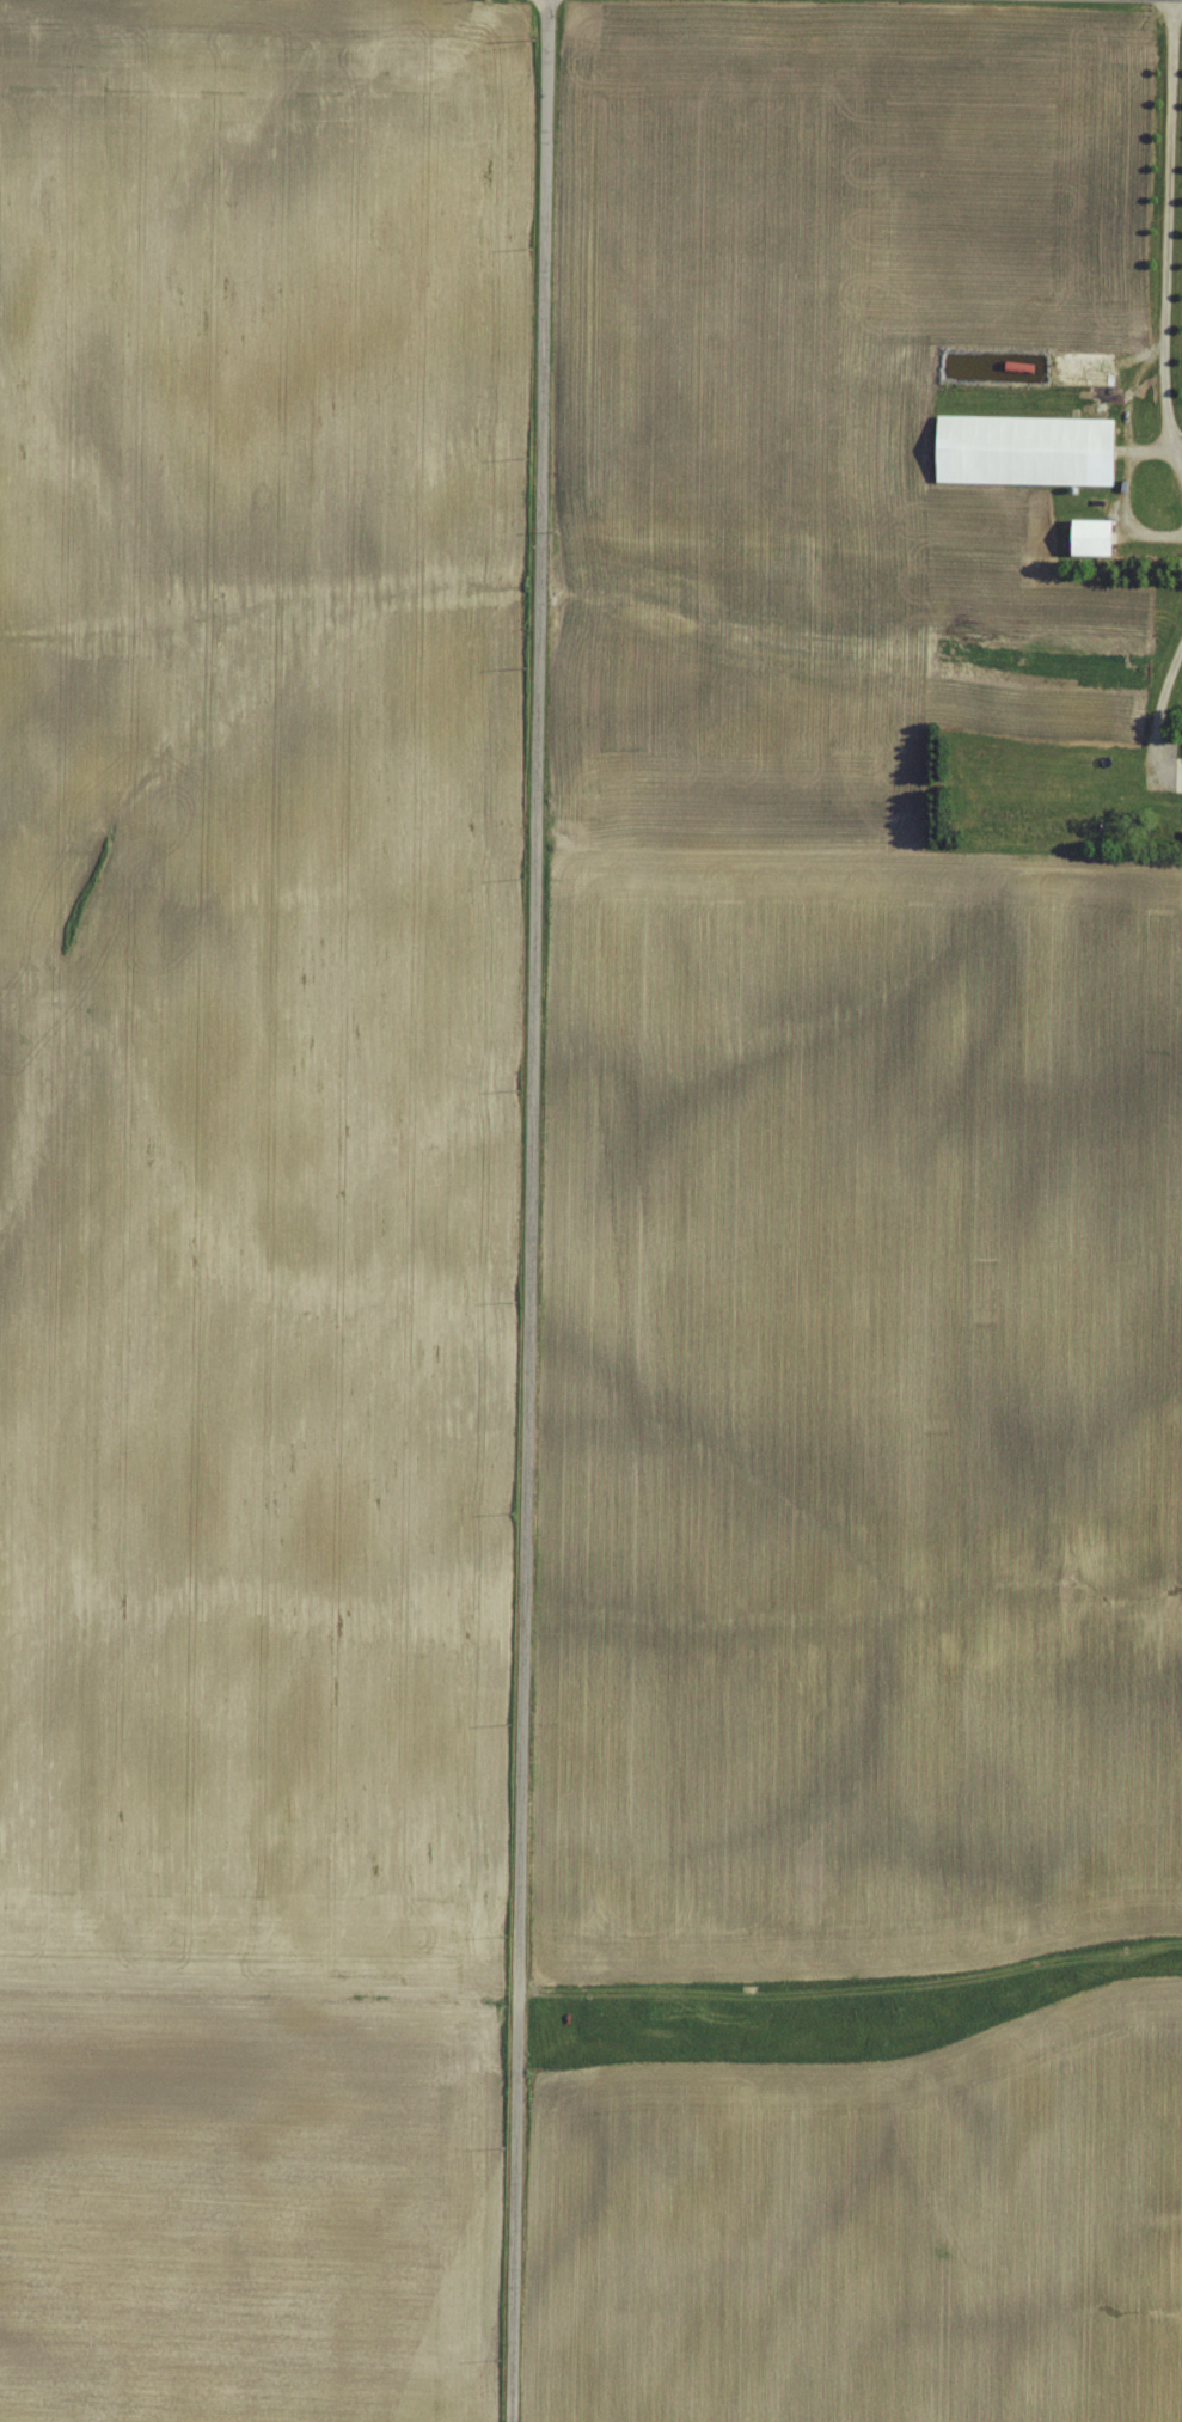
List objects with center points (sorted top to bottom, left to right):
road: (1163, 245)
road: (1121, 501)
road: (1162, 696)
road: (526, 1210)

